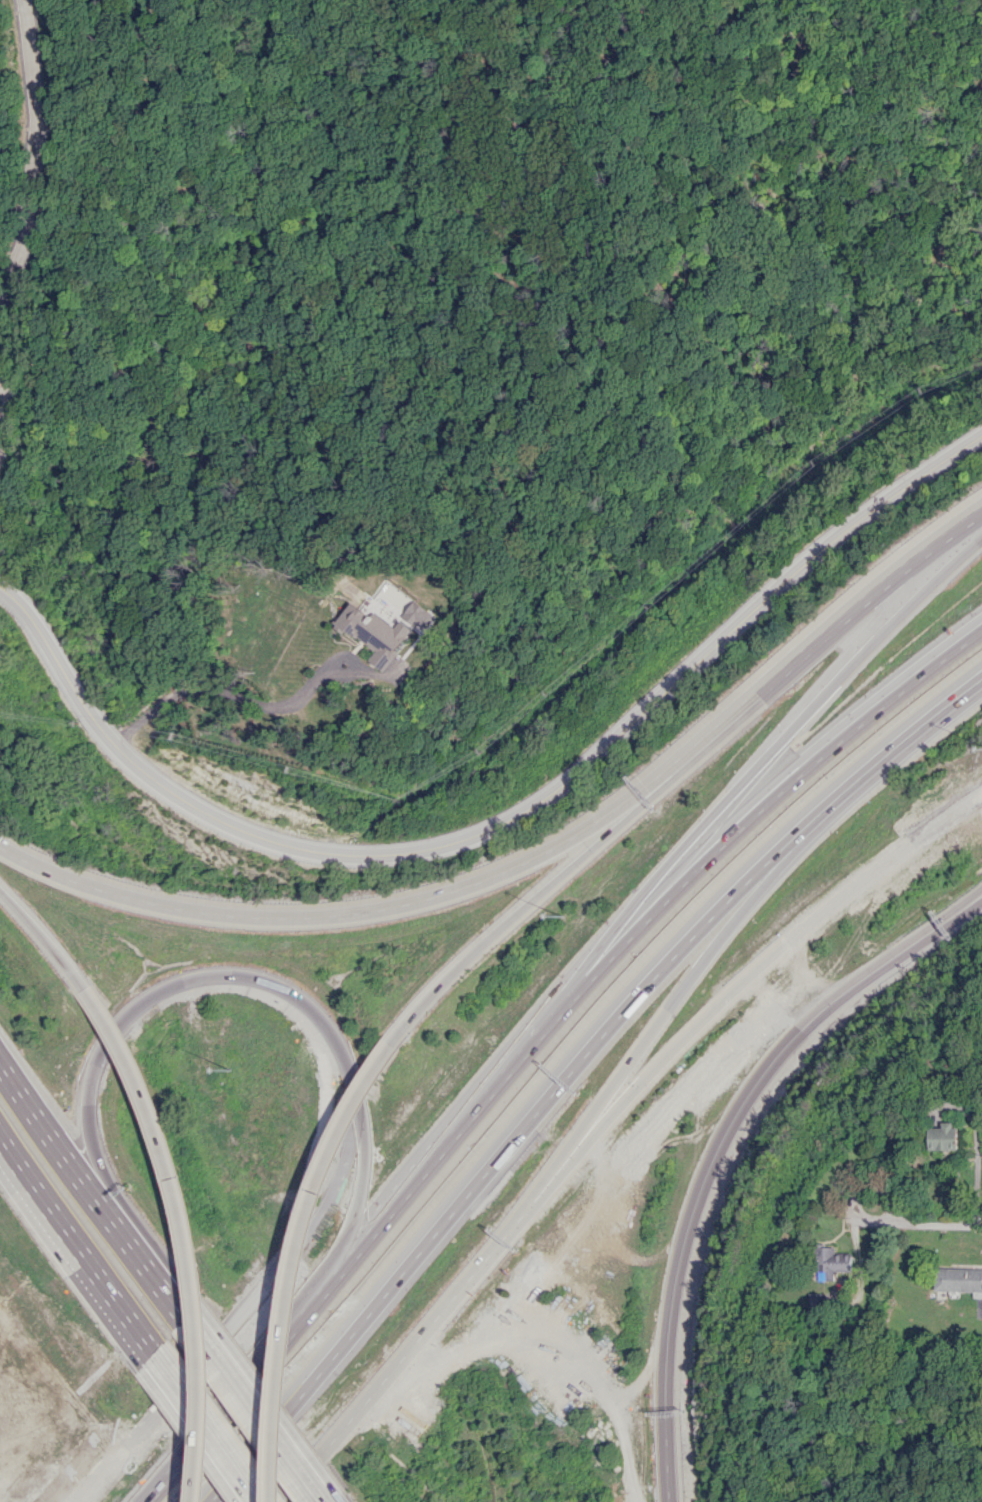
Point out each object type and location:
road: (610, 79)
road: (315, 110)
road: (33, 149)
road: (12, 401)
road: (649, 472)
building: (374, 633)
road: (829, 635)
road: (232, 694)
road: (790, 734)
road: (794, 778)
road: (500, 826)
road: (538, 902)
road: (353, 914)
road: (941, 919)
road: (942, 927)
road: (48, 934)
road: (736, 988)
road: (664, 1018)
road: (350, 1061)
road: (571, 1069)
building: (942, 1137)
road: (76, 1161)
road: (695, 1187)
road: (382, 1222)
road: (934, 1226)
road: (190, 1235)
road: (79, 1240)
road: (298, 1261)
building: (830, 1262)
building: (958, 1280)
road: (170, 1292)
road: (401, 1359)
road: (254, 1409)
road: (211, 1427)
road: (176, 1450)

